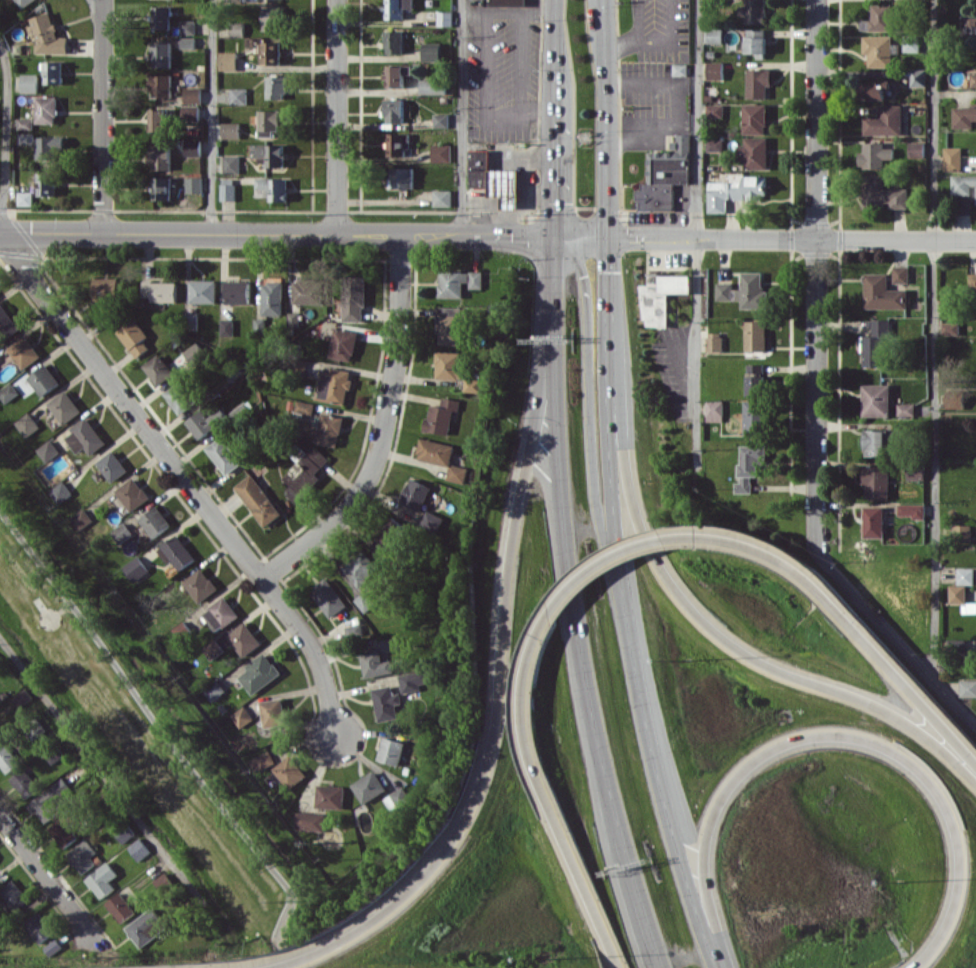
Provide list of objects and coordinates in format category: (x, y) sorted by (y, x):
building: (918, 0)
building: (25, 2)
road: (100, 2)
road: (101, 2)
building: (506, 2)
building: (398, 8)
road: (537, 9)
building: (756, 11)
building: (162, 17)
road: (485, 17)
building: (272, 18)
building: (445, 18)
building: (881, 18)
building: (971, 24)
building: (188, 26)
building: (237, 29)
building: (715, 35)
building: (48, 36)
building: (188, 42)
building: (394, 42)
building: (757, 42)
building: (912, 43)
road: (555, 46)
building: (879, 50)
building: (432, 51)
building: (272, 52)
building: (162, 54)
building: (229, 60)
building: (681, 69)
building: (715, 70)
building: (54, 72)
building: (395, 75)
building: (919, 77)
building: (973, 80)
building: (29, 82)
building: (759, 82)
building: (162, 85)
building: (433, 86)
building: (276, 87)
building: (878, 88)
building: (193, 95)
building: (239, 96)
building: (46, 109)
road: (537, 109)
building: (394, 110)
building: (716, 110)
building: (191, 113)
road: (212, 116)
road: (337, 116)
building: (964, 116)
road: (462, 117)
road: (103, 118)
road: (606, 118)
building: (756, 118)
building: (159, 119)
building: (441, 120)
building: (269, 121)
building: (885, 121)
building: (25, 123)
road: (6, 126)
building: (231, 129)
building: (26, 137)
building: (715, 144)
building: (51, 146)
building: (193, 147)
building: (917, 149)
building: (441, 152)
building: (754, 152)
building: (270, 153)
building: (875, 155)
building: (161, 156)
building: (953, 158)
building: (231, 163)
road: (553, 164)
building: (666, 174)
building: (402, 177)
building: (495, 179)
building: (46, 183)
building: (194, 184)
building: (963, 184)
building: (162, 188)
building: (273, 188)
building: (228, 189)
building: (736, 191)
building: (883, 192)
building: (442, 197)
building: (25, 198)
road: (488, 234)
road: (697, 234)
traffic signals: (552, 235)
traffic signals: (609, 237)
building: (901, 274)
road: (816, 276)
building: (972, 280)
building: (459, 282)
building: (106, 289)
building: (160, 291)
building: (203, 291)
building: (306, 291)
building: (746, 291)
building: (238, 292)
building: (883, 293)
building: (662, 296)
building: (272, 298)
building: (354, 298)
building: (7, 323)
building: (451, 325)
building: (227, 326)
building: (951, 328)
building: (756, 335)
building: (134, 337)
road: (935, 341)
building: (877, 342)
building: (715, 343)
building: (344, 344)
building: (24, 351)
building: (194, 354)
building: (450, 364)
building: (158, 369)
building: (44, 379)
building: (757, 379)
building: (334, 385)
building: (473, 385)
building: (9, 392)
building: (180, 397)
building: (877, 399)
building: (953, 401)
building: (65, 406)
building: (304, 407)
building: (242, 409)
building: (906, 409)
building: (715, 410)
building: (441, 416)
road: (591, 416)
building: (756, 417)
building: (205, 422)
building: (27, 424)
building: (330, 429)
road: (381, 430)
building: (85, 437)
building: (878, 441)
building: (48, 450)
building: (223, 455)
building: (442, 457)
building: (112, 465)
building: (750, 465)
building: (915, 470)
building: (306, 474)
road: (183, 477)
building: (877, 481)
building: (61, 492)
building: (133, 493)
building: (415, 494)
building: (258, 499)
building: (912, 510)
building: (82, 518)
building: (432, 520)
building: (155, 521)
building: (874, 521)
building: (122, 532)
building: (389, 538)
building: (176, 552)
road: (601, 558)
building: (360, 567)
building: (136, 568)
building: (965, 575)
building: (200, 585)
building: (957, 593)
building: (327, 597)
building: (363, 601)
road: (572, 605)
road: (623, 606)
building: (969, 608)
building: (220, 613)
road: (843, 617)
road: (706, 621)
building: (182, 630)
building: (354, 631)
building: (244, 639)
road: (894, 641)
building: (388, 643)
building: (212, 649)
building: (374, 663)
building: (259, 673)
building: (411, 680)
building: (967, 688)
building: (214, 690)
building: (22, 698)
road: (497, 699)
road: (142, 702)
building: (385, 702)
building: (272, 712)
building: (242, 716)
road: (835, 731)
building: (0, 736)
building: (389, 751)
building: (7, 758)
building: (262, 761)
building: (289, 771)
road: (110, 779)
building: (23, 783)
building: (367, 786)
road: (538, 793)
building: (330, 796)
building: (51, 798)
building: (396, 799)
building: (310, 821)
building: (64, 828)
building: (124, 833)
building: (139, 849)
building: (82, 855)
building: (102, 879)
road: (46, 882)
building: (164, 882)
building: (14, 894)
building: (119, 907)
road: (283, 920)
building: (39, 927)
building: (145, 927)
building: (51, 947)

